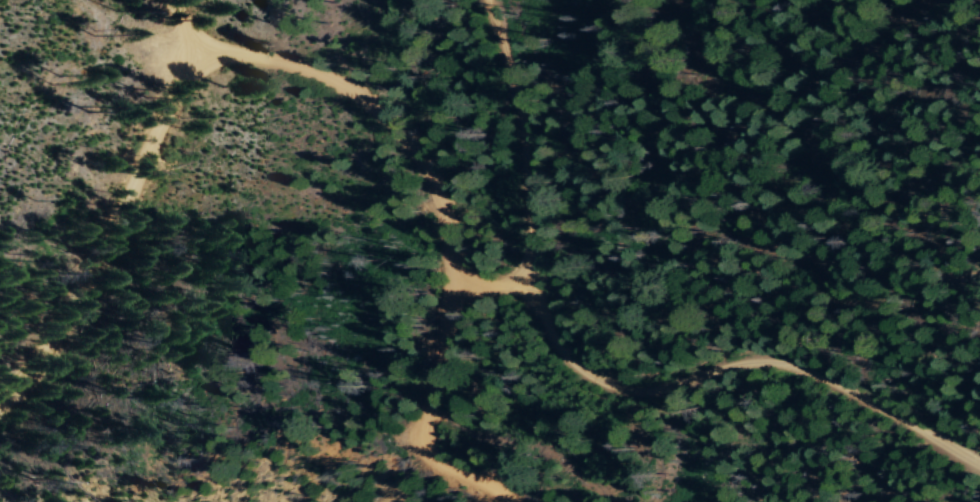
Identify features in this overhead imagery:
road: (121, 216)
road: (443, 218)
road: (485, 281)
road: (579, 376)

